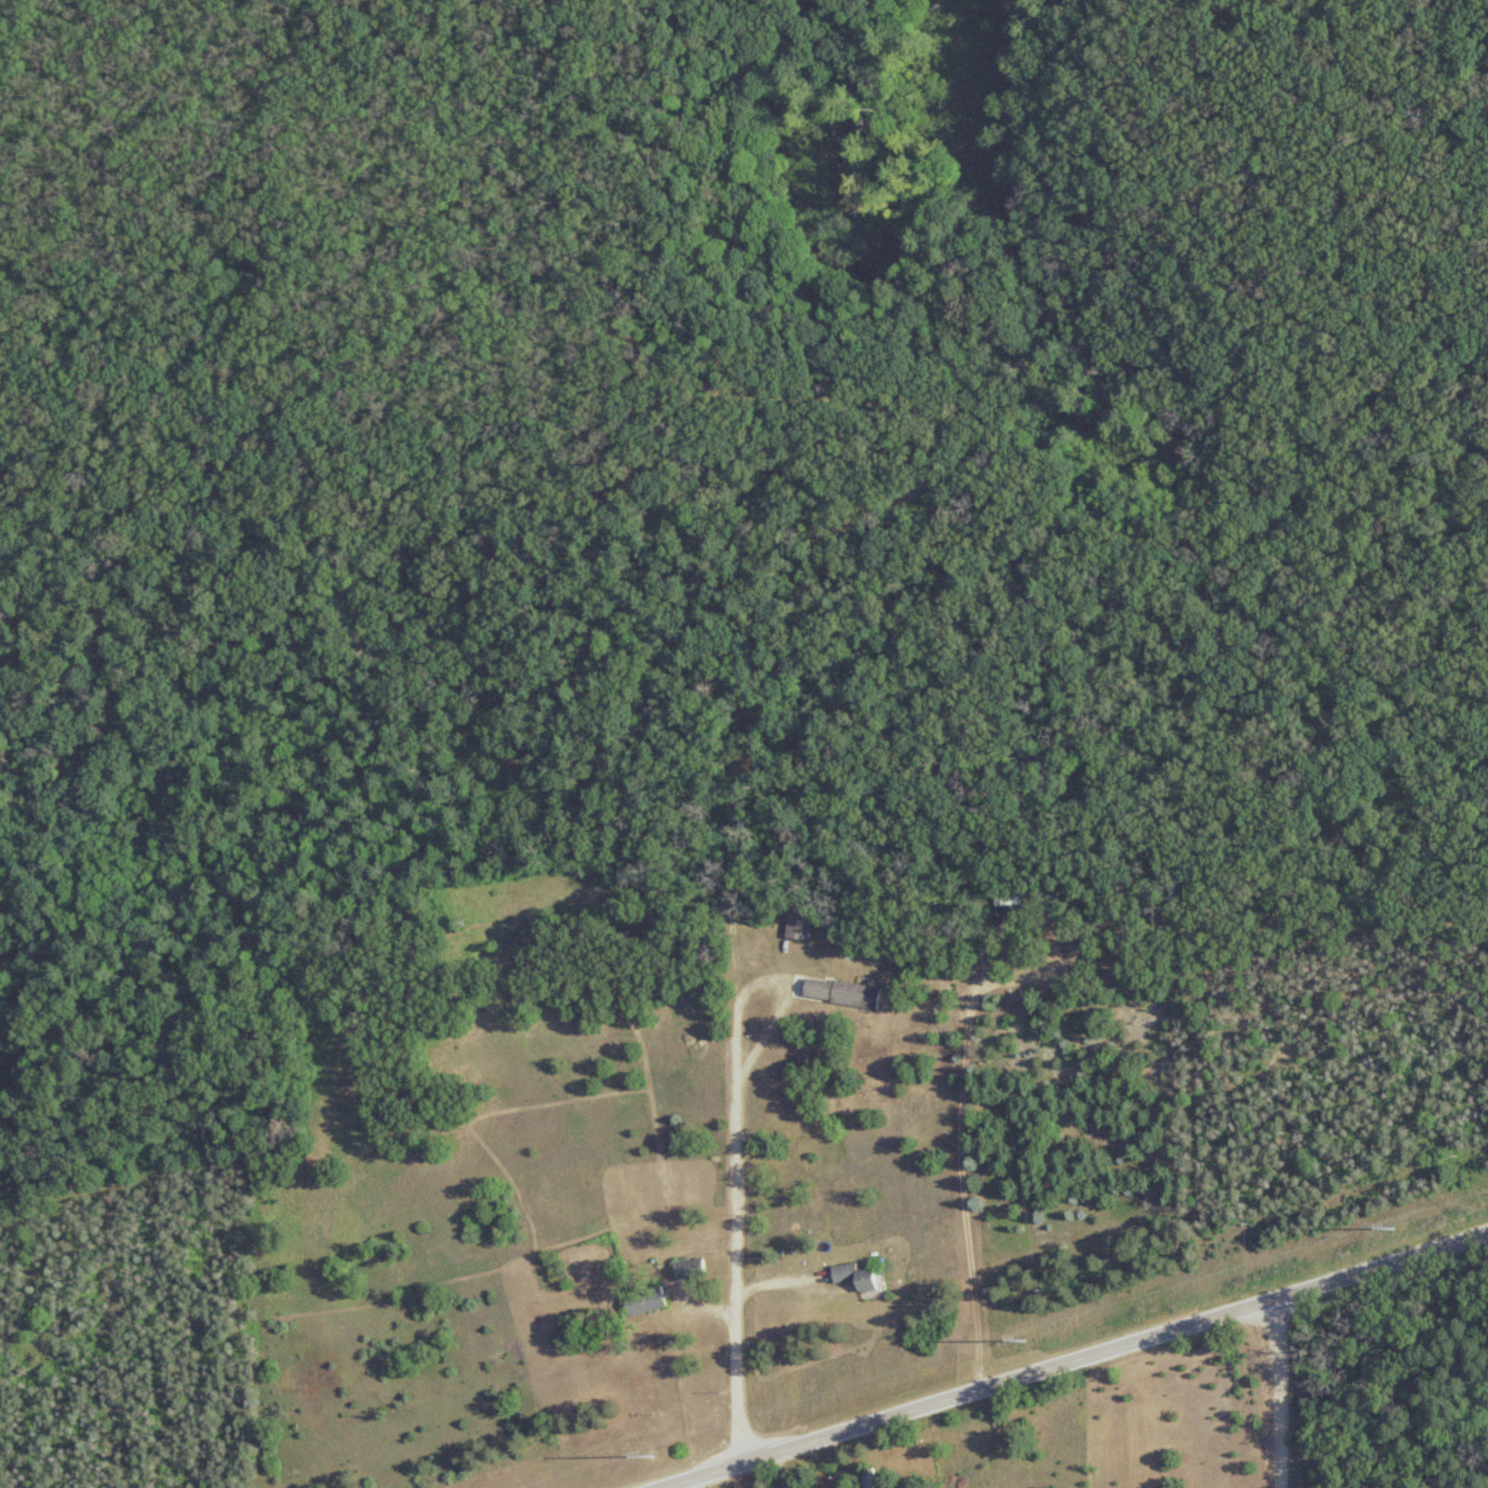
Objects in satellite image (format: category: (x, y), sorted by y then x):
building: (1005, 903)
building: (797, 925)
building: (1074, 943)
road: (769, 970)
building: (840, 993)
road: (966, 1173)
power tower: (1391, 1227)
road: (736, 1266)
building: (688, 1269)
building: (853, 1277)
building: (645, 1300)
power tower: (1026, 1341)
road: (1064, 1357)
road: (1280, 1390)
power tower: (650, 1458)
building: (873, 1482)

